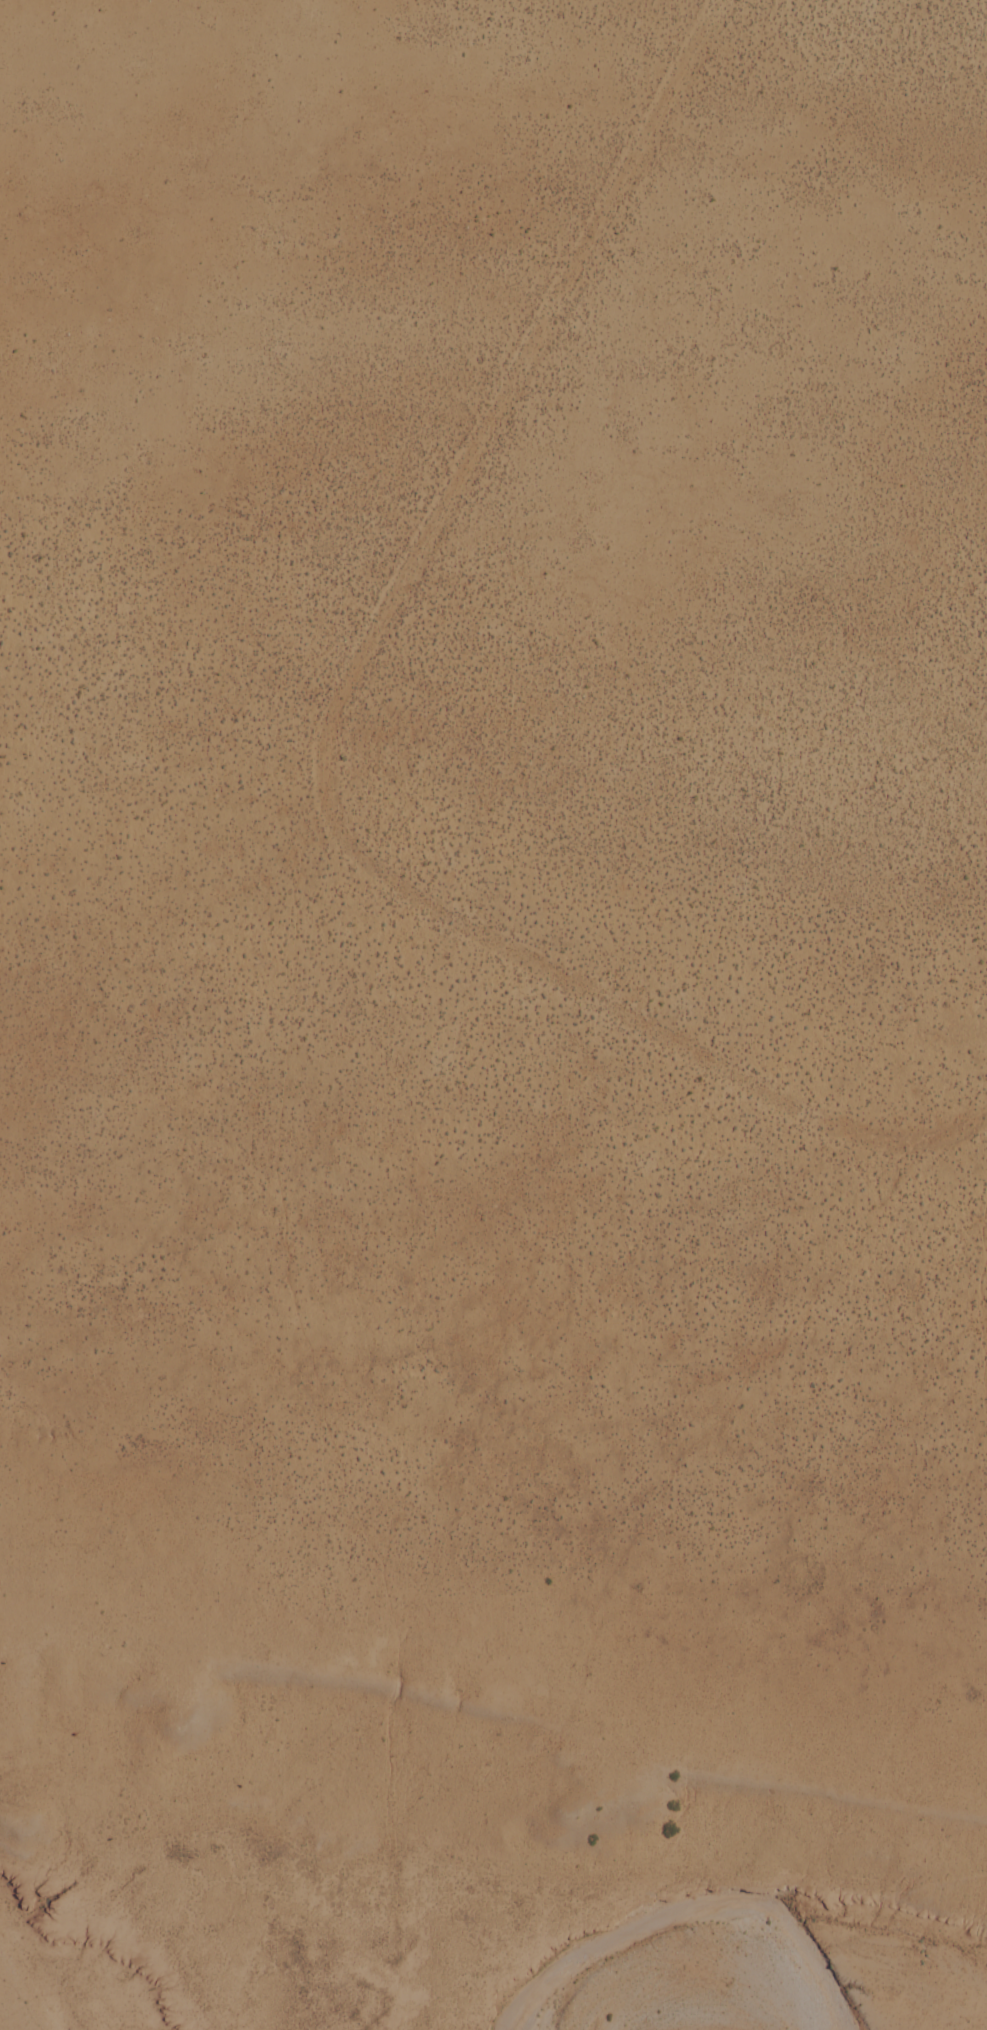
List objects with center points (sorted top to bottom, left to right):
road: (346, 728)

